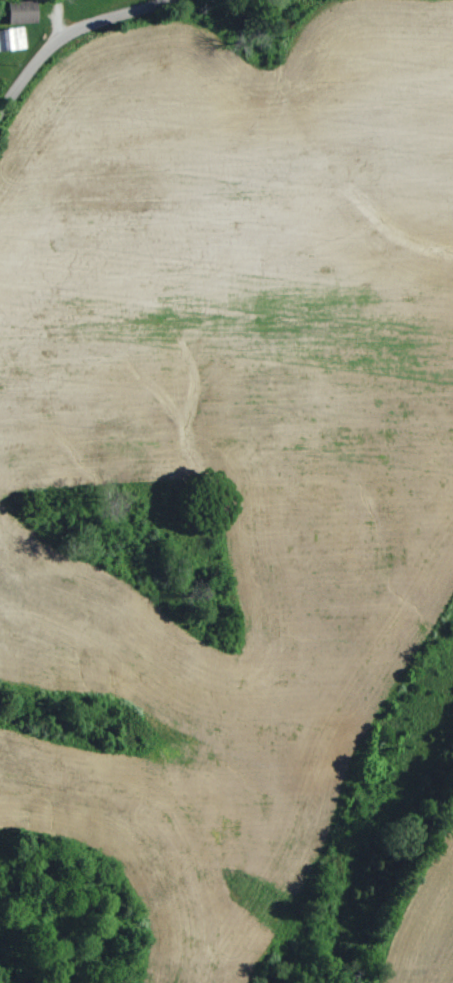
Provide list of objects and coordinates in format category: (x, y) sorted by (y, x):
building: (23, 12)
road: (66, 30)
building: (12, 40)

